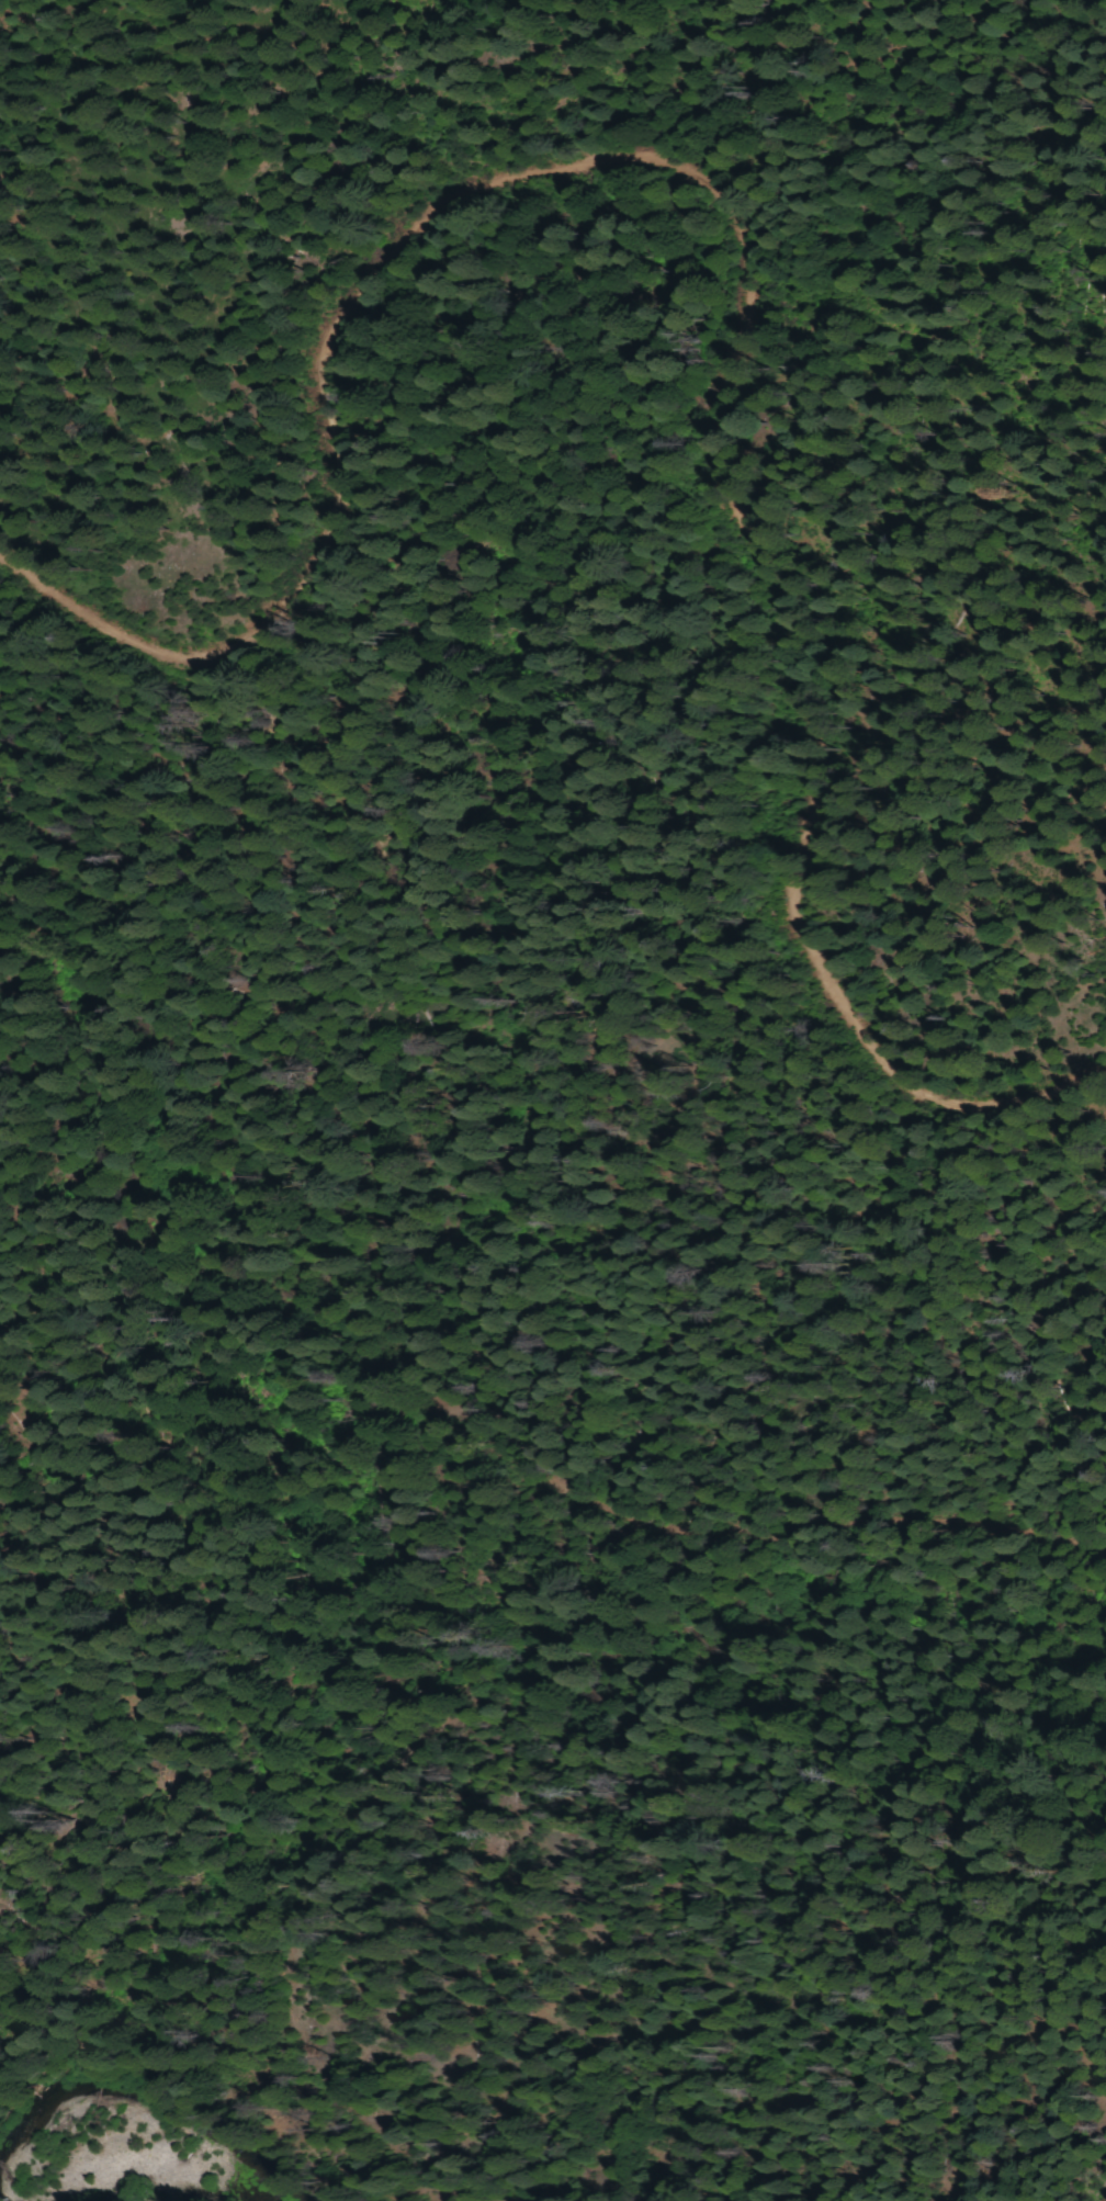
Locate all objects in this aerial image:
river: (138, 2126)

